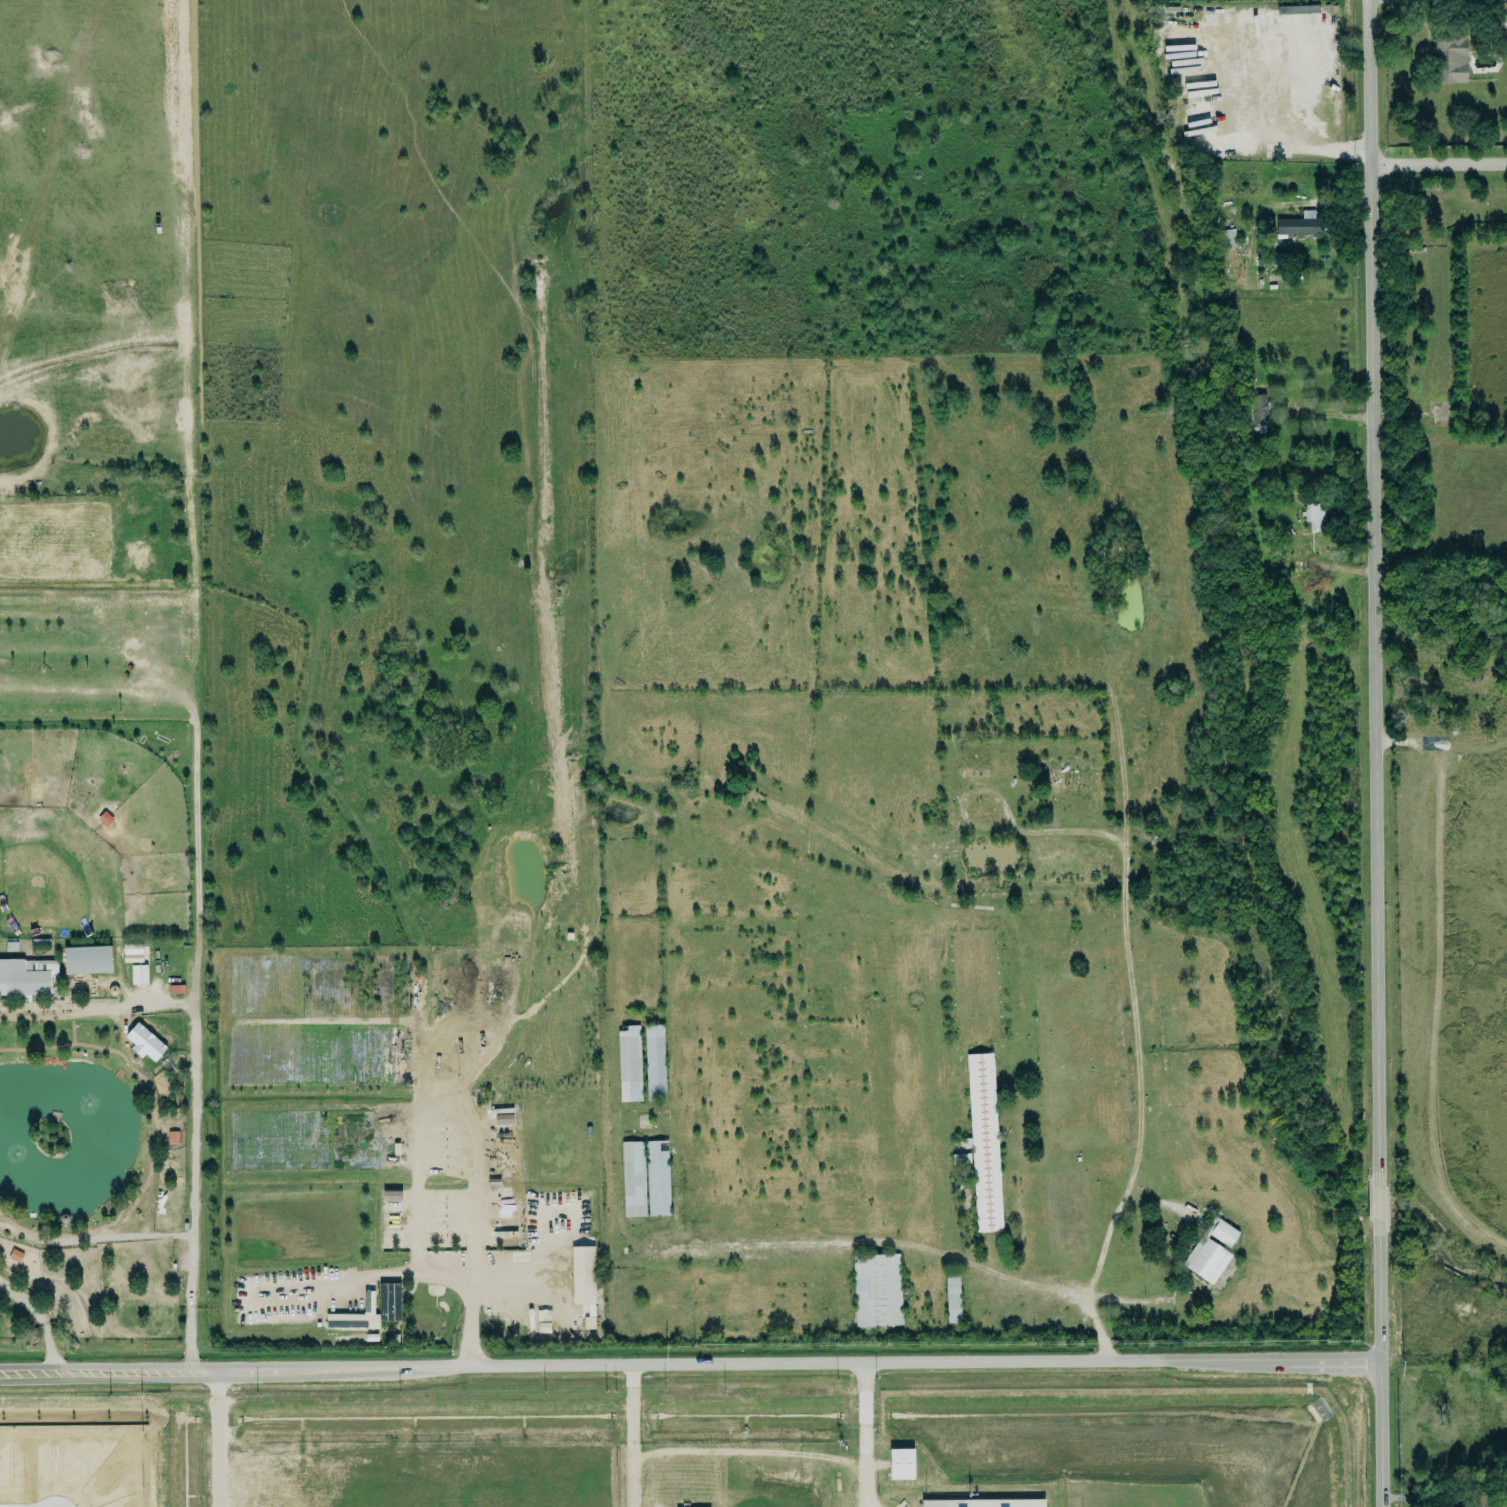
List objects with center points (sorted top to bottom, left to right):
building: (1501, 22)
building: (1450, 59)
road: (1322, 151)
road: (1437, 166)
building: (1300, 225)
building: (1227, 239)
building: (1259, 410)
building: (1314, 516)
road: (1371, 586)
river: (1274, 684)
road: (193, 747)
building: (1210, 935)
building: (132, 953)
building: (85, 960)
building: (139, 974)
building: (25, 977)
building: (176, 989)
building: (145, 1041)
building: (653, 1062)
building: (628, 1063)
road: (197, 1094)
road: (1139, 1113)
road: (445, 1115)
building: (503, 1119)
building: (173, 1137)
building: (982, 1140)
building: (959, 1158)
building: (657, 1177)
building: (632, 1179)
building: (391, 1195)
road: (1378, 1196)
building: (966, 1199)
road: (881, 1240)
building: (1209, 1251)
building: (146, 1265)
road: (415, 1273)
building: (583, 1275)
building: (876, 1290)
building: (951, 1298)
building: (388, 1302)
road: (43, 1318)
building: (589, 1322)
road: (1100, 1340)
road: (1444, 1361)
road: (1380, 1362)
road: (690, 1364)
road: (865, 1435)
road: (631, 1436)
road: (214, 1440)
building: (901, 1464)
building: (1480, 1497)
building: (980, 1503)

